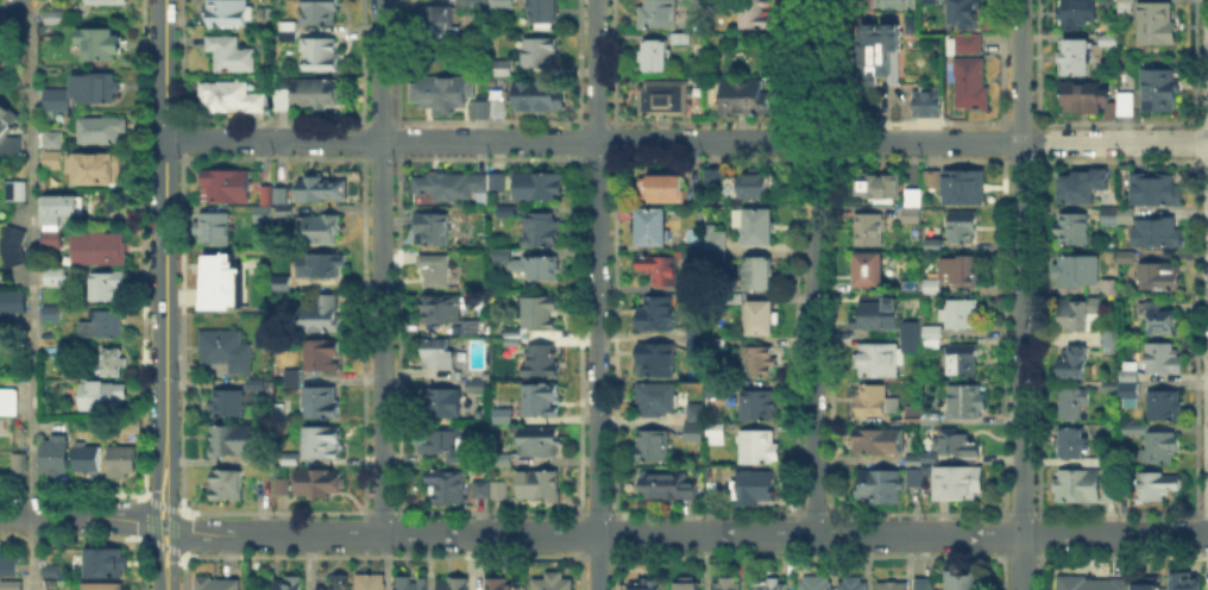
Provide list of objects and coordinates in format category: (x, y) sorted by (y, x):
building: (113, 2)
building: (932, 2)
building: (470, 4)
building: (507, 5)
road: (6, 8)
building: (321, 12)
building: (229, 13)
building: (759, 13)
building: (967, 13)
building: (1078, 13)
building: (546, 14)
building: (660, 14)
building: (56, 17)
building: (914, 25)
building: (1159, 25)
building: (438, 26)
building: (290, 32)
building: (49, 33)
building: (1113, 37)
building: (684, 40)
building: (969, 44)
building: (103, 45)
building: (542, 54)
building: (883, 54)
building: (232, 55)
building: (322, 56)
building: (658, 57)
building: (1082, 58)
road: (793, 63)
road: (830, 63)
building: (508, 70)
building: (973, 86)
building: (96, 88)
building: (1162, 92)
building: (310, 94)
building: (442, 94)
building: (56, 96)
building: (542, 96)
building: (231, 98)
building: (748, 98)
building: (666, 100)
building: (1102, 101)
building: (929, 106)
building: (499, 109)
building: (480, 111)
building: (100, 127)
building: (8, 132)
building: (55, 137)
road: (686, 139)
road: (794, 139)
road: (830, 139)
building: (54, 161)
building: (97, 170)
building: (716, 178)
building: (458, 186)
building: (750, 186)
building: (880, 186)
building: (958, 186)
building: (1084, 186)
building: (226, 187)
building: (540, 187)
building: (665, 187)
building: (13, 188)
building: (326, 190)
building: (1156, 190)
building: (275, 194)
building: (916, 200)
building: (64, 209)
building: (287, 212)
building: (510, 212)
building: (264, 214)
building: (913, 215)
building: (1119, 215)
road: (165, 224)
building: (963, 227)
building: (654, 228)
building: (760, 228)
building: (215, 230)
building: (435, 230)
building: (1072, 230)
building: (320, 231)
building: (872, 231)
building: (1159, 231)
building: (546, 232)
building: (936, 237)
building: (54, 239)
building: (11, 243)
building: (99, 246)
building: (718, 246)
building: (503, 253)
building: (1128, 257)
building: (322, 264)
road: (382, 266)
road: (814, 266)
building: (537, 268)
building: (659, 269)
building: (436, 271)
building: (872, 271)
building: (963, 271)
building: (1080, 271)
building: (762, 274)
building: (56, 277)
building: (1158, 277)
building: (220, 282)
building: (284, 284)
building: (111, 285)
building: (932, 285)
building: (911, 287)
building: (1111, 289)
road: (32, 291)
road: (1023, 294)
road: (598, 295)
building: (13, 302)
building: (442, 309)
building: (541, 313)
building: (1080, 313)
building: (962, 314)
building: (55, 315)
building: (321, 315)
building: (880, 315)
building: (658, 316)
building: (1158, 318)
building: (762, 319)
building: (105, 325)
building: (471, 329)
road: (830, 335)
road: (794, 337)
building: (515, 338)
building: (697, 338)
building: (913, 338)
building: (935, 339)
building: (1109, 343)
building: (228, 351)
building: (439, 356)
building: (321, 357)
building: (880, 359)
building: (1164, 359)
building: (658, 360)
building: (756, 362)
building: (964, 362)
building: (115, 363)
building: (545, 363)
building: (1075, 363)
building: (290, 377)
building: (296, 382)
building: (259, 384)
building: (1131, 385)
building: (478, 388)
building: (106, 395)
building: (717, 396)
building: (658, 400)
building: (540, 401)
building: (877, 402)
building: (965, 402)
building: (10, 403)
building: (323, 403)
building: (443, 404)
building: (1165, 404)
building: (232, 406)
building: (1075, 406)
building: (761, 407)
building: (505, 410)
building: (698, 413)
building: (914, 416)
building: (933, 421)
building: (1135, 429)
building: (693, 434)
building: (718, 435)
building: (233, 441)
building: (541, 441)
building: (877, 442)
building: (325, 444)
building: (961, 444)
building: (1074, 444)
building: (447, 445)
building: (655, 447)
building: (1162, 447)
building: (760, 448)
building: (931, 457)
building: (56, 458)
building: (89, 458)
building: (290, 458)
building: (914, 459)
building: (1091, 460)
building: (505, 462)
building: (124, 463)
building: (21, 464)
building: (926, 469)
road: (155, 475)
road: (171, 476)
building: (917, 478)
building: (319, 483)
building: (958, 483)
building: (228, 484)
building: (279, 484)
building: (541, 485)
building: (447, 487)
building: (669, 487)
building: (1080, 487)
building: (1156, 487)
building: (755, 488)
building: (882, 488)
building: (491, 489)
building: (1113, 492)
road: (155, 514)
road: (77, 516)
road: (172, 516)
road: (163, 525)
road: (830, 526)
road: (795, 527)
road: (155, 535)
road: (690, 535)
road: (172, 536)
building: (105, 560)
building: (7, 565)
road: (171, 566)
road: (157, 567)
building: (51, 571)
building: (371, 582)
building: (554, 582)
building: (339, 583)
building: (414, 583)
building: (965, 583)
building: (1188, 583)
building: (220, 584)
building: (729, 584)
building: (817, 584)
building: (855, 584)
building: (1112, 584)
building: (290, 585)
building: (454, 585)
building: (504, 585)
building: (646, 585)
building: (687, 585)
building: (926, 585)
building: (13, 586)
building: (102, 586)
building: (770, 586)
building: (894, 586)
road: (168, 588)

